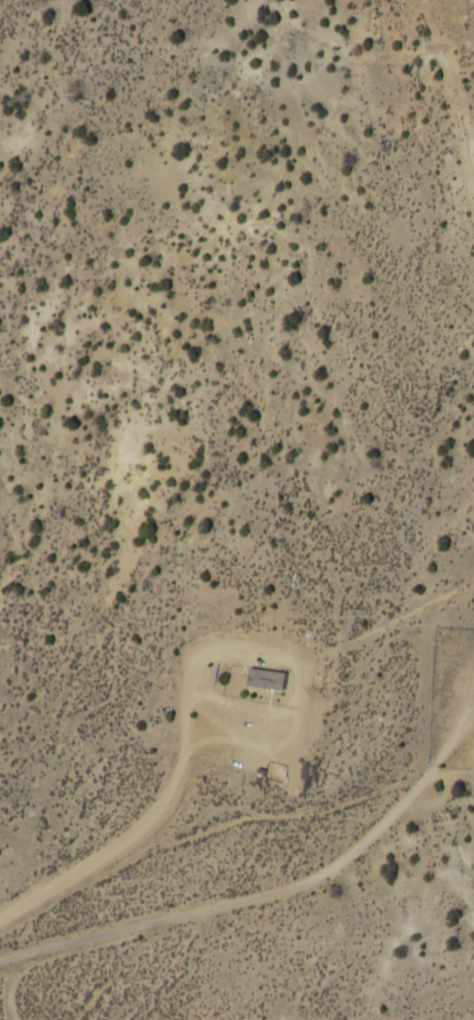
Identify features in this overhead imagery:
building: (261, 666)

